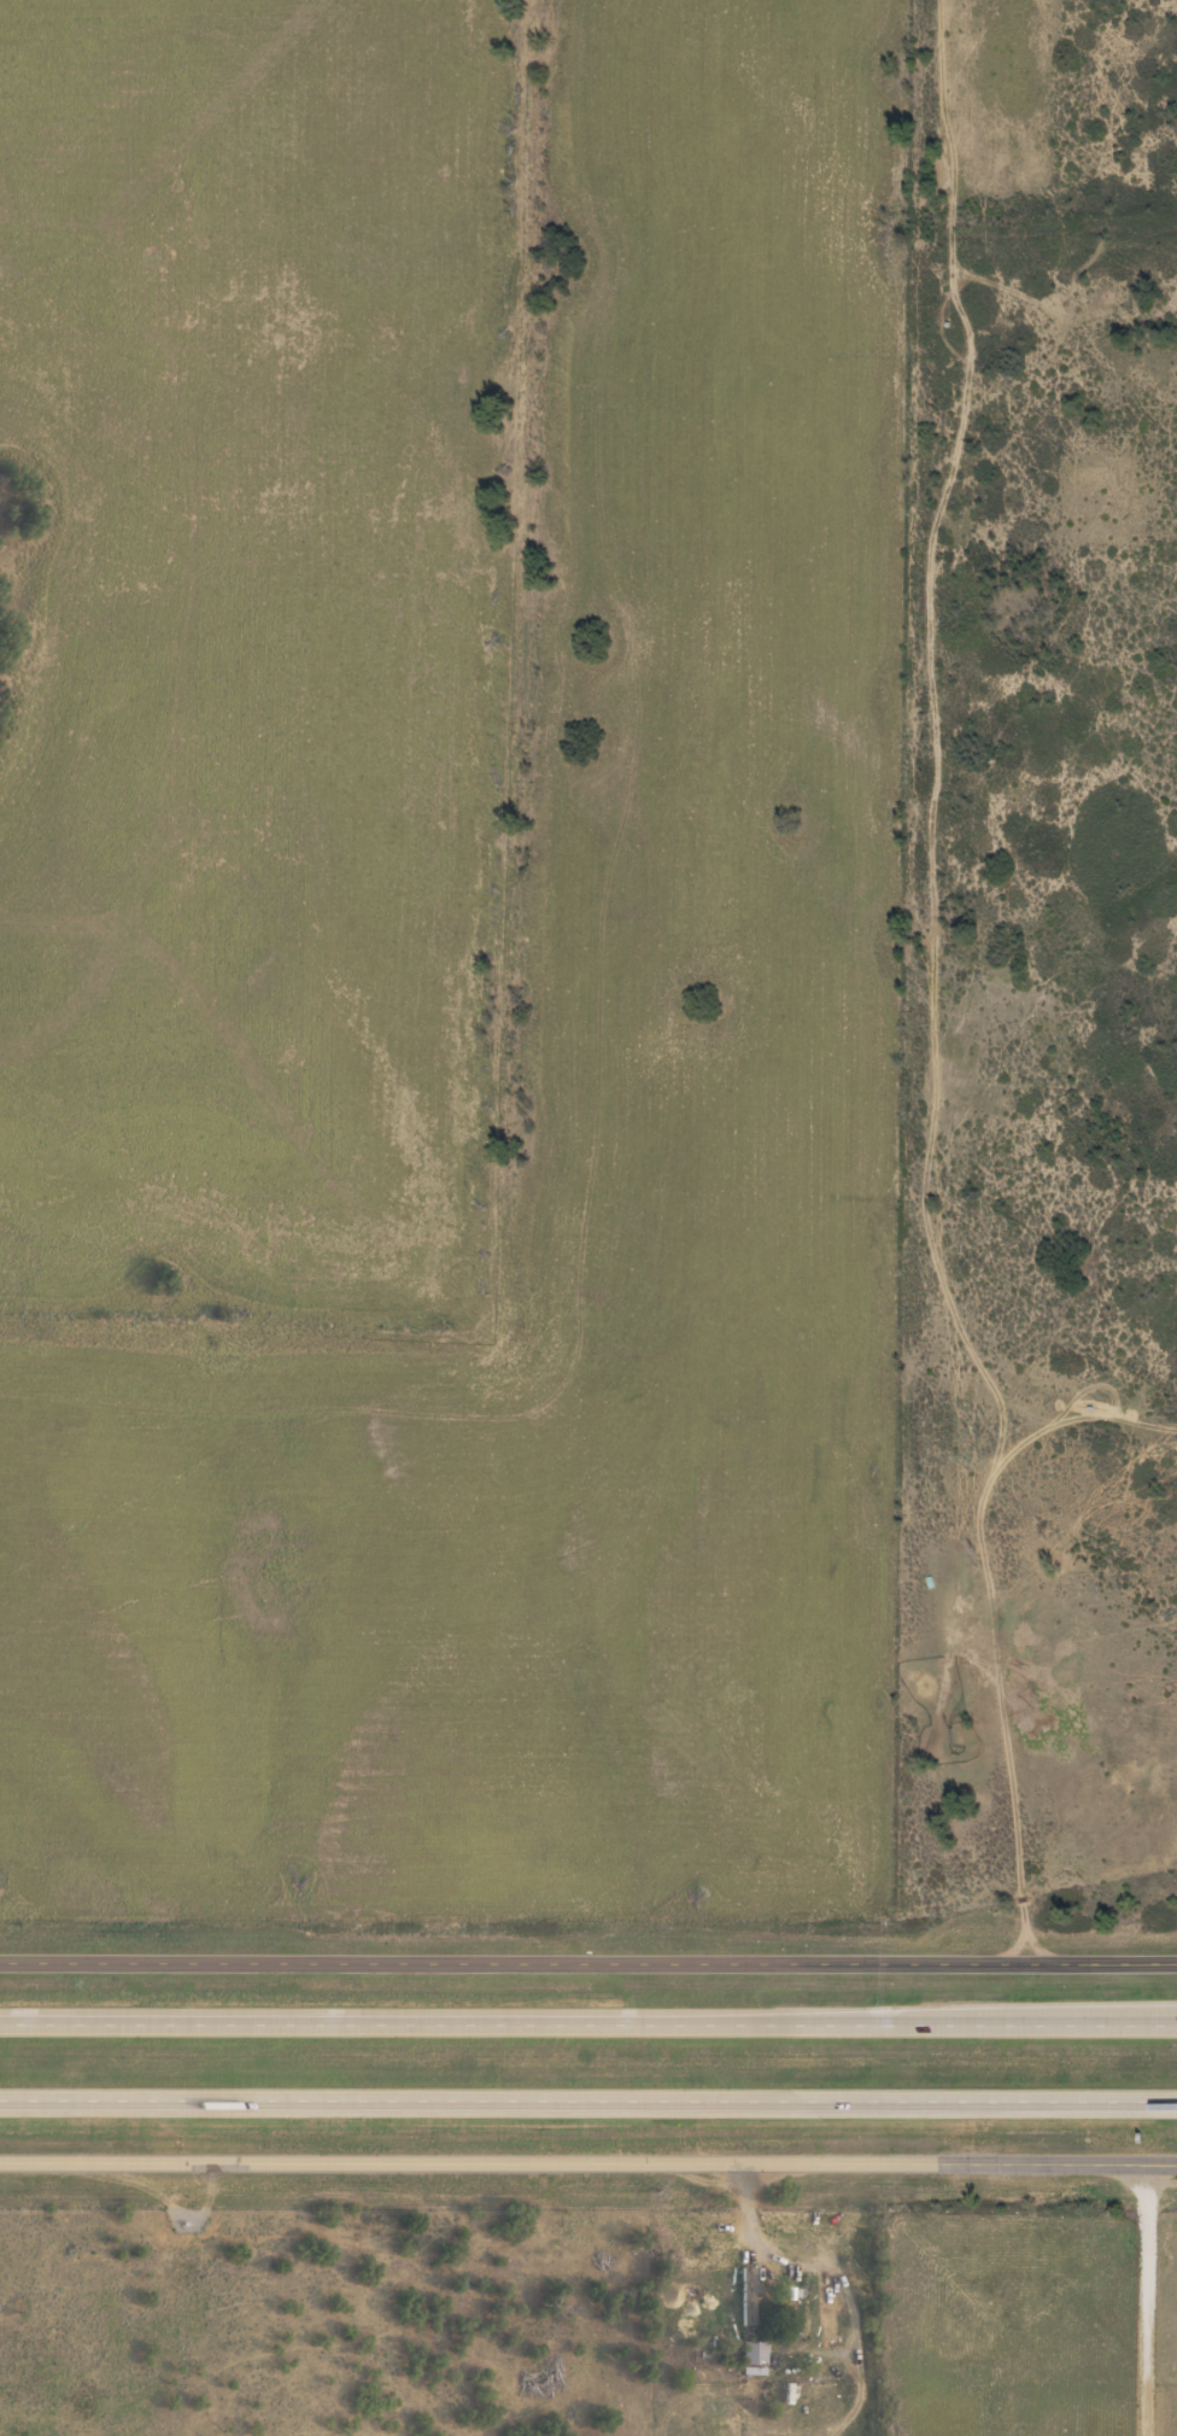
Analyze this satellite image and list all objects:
road: (588, 1959)
road: (588, 2020)
road: (588, 2097)
road: (587, 2161)
building: (745, 2294)
road: (1149, 2298)
building: (794, 2308)
building: (749, 2352)

